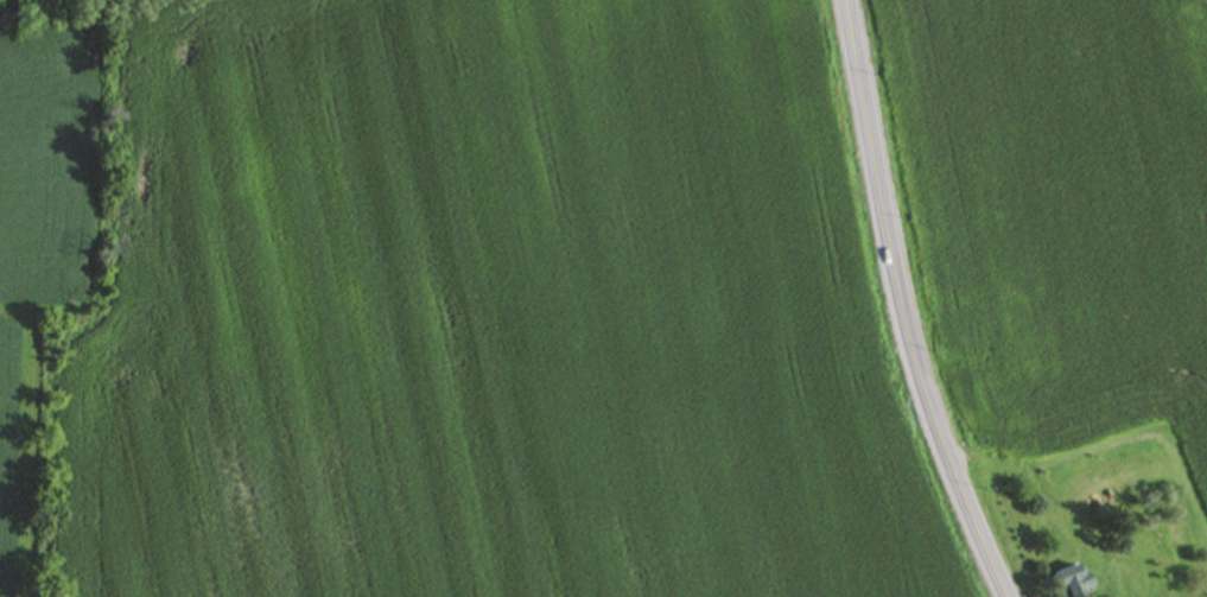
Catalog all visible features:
road: (903, 305)
building: (1072, 582)

